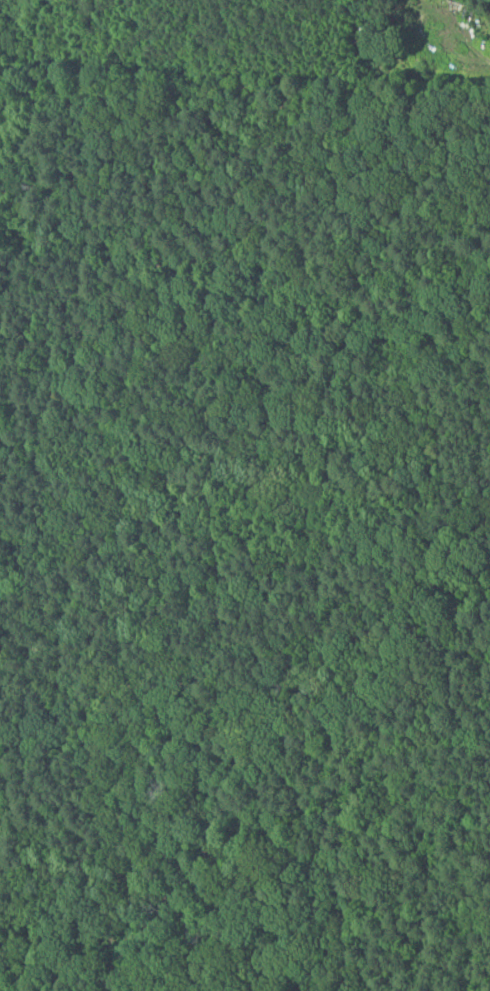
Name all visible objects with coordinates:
road: (419, 13)

